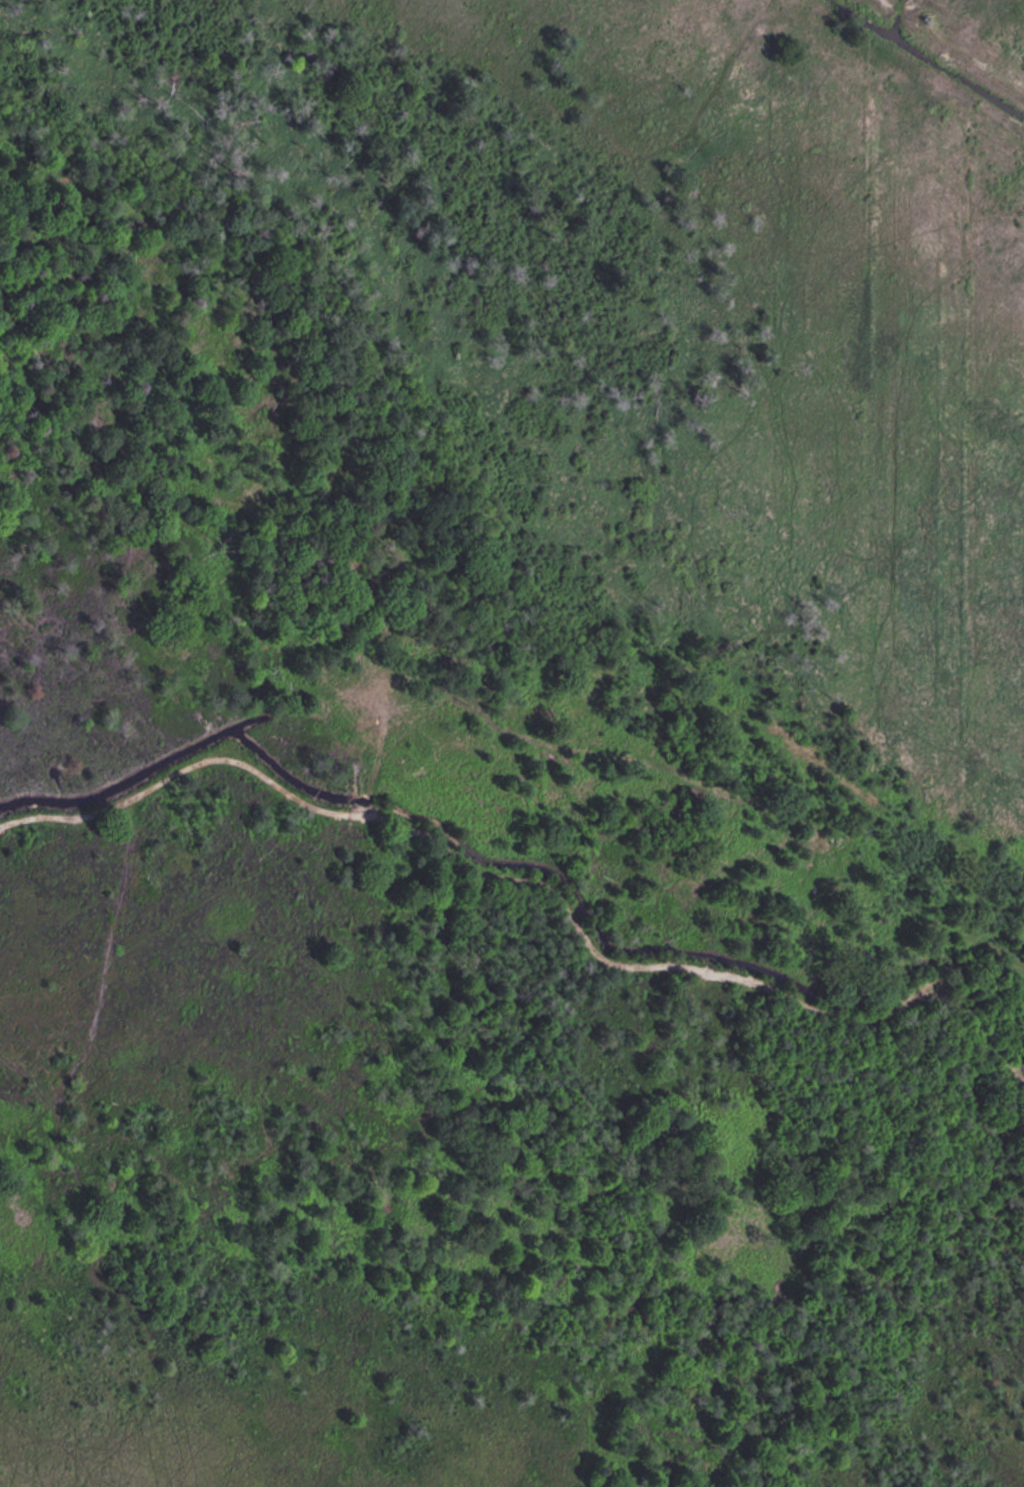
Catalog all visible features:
road: (505, 899)

